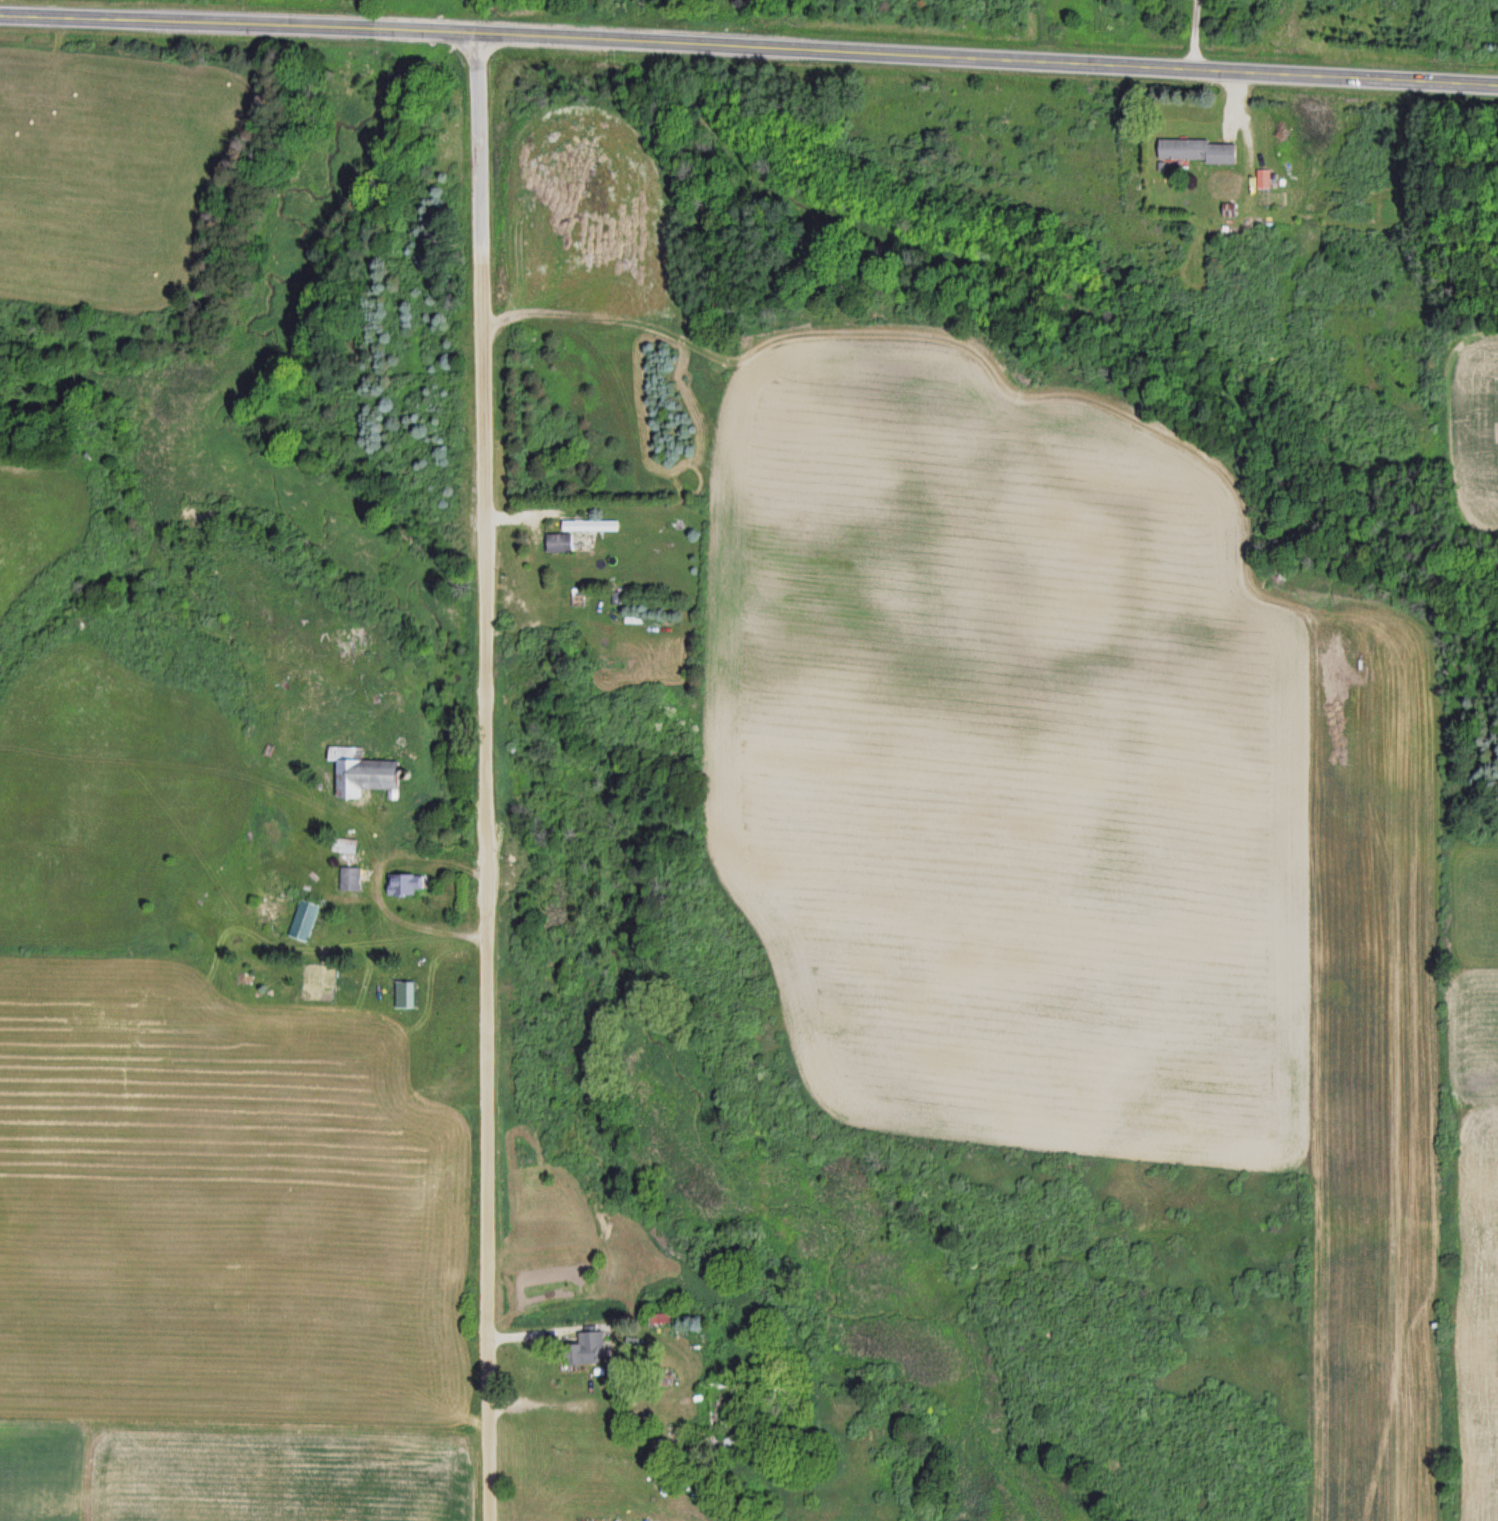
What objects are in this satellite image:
road: (749, 49)
building: (1197, 152)
building: (589, 527)
building: (558, 544)
building: (360, 774)
road: (482, 778)
building: (343, 848)
building: (350, 880)
building: (405, 885)
building: (304, 921)
building: (404, 996)
building: (659, 1319)
building: (586, 1350)
building: (721, 1409)

